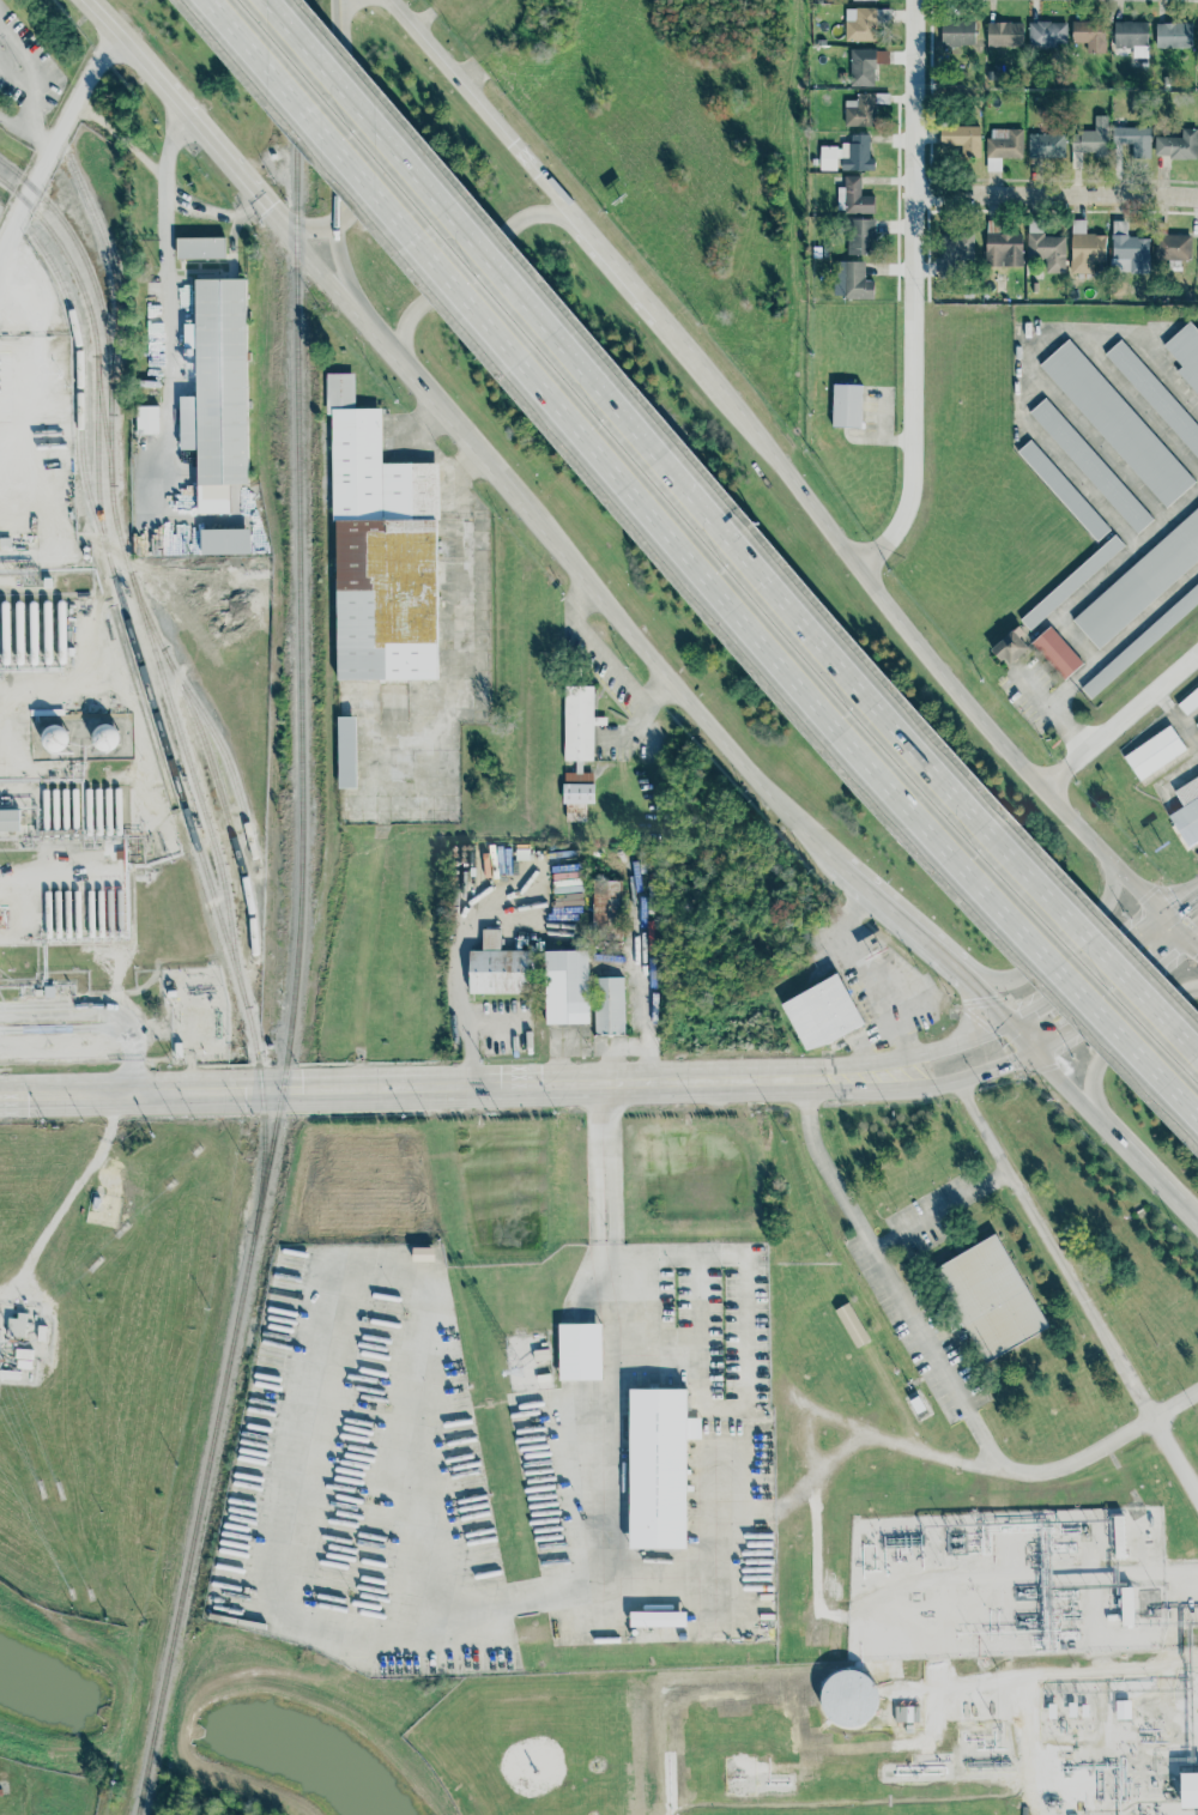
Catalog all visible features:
building: (863, 0)
road: (334, 2)
building: (859, 24)
building: (1088, 31)
building: (957, 32)
building: (1004, 34)
building: (1046, 34)
building: (1173, 35)
building: (1131, 36)
building: (865, 65)
road: (26, 78)
road: (329, 107)
road: (483, 110)
building: (859, 110)
road: (194, 113)
railway: (292, 114)
road: (25, 131)
building: (1090, 137)
building: (961, 139)
building: (1133, 139)
building: (1004, 143)
building: (1046, 145)
building: (1176, 145)
building: (847, 155)
building: (1076, 159)
building: (993, 164)
building: (853, 196)
road: (1061, 198)
road: (314, 224)
building: (859, 236)
building: (956, 244)
building: (200, 247)
building: (1045, 247)
building: (1172, 247)
building: (1084, 248)
building: (1003, 249)
building: (1127, 249)
road: (483, 250)
road: (468, 261)
road: (341, 262)
road: (618, 271)
railway: (115, 280)
building: (851, 280)
road: (4, 290)
road: (924, 298)
road: (176, 313)
railway: (90, 317)
road: (10, 325)
railway: (103, 328)
road: (1027, 352)
building: (1186, 352)
building: (217, 392)
building: (1155, 394)
railway: (79, 399)
road: (1133, 399)
road: (5, 401)
building: (847, 405)
building: (147, 419)
building: (1118, 422)
road: (1095, 441)
building: (1091, 465)
building: (1063, 489)
building: (224, 540)
road: (564, 544)
building: (380, 550)
road: (1126, 551)
road: (692, 567)
road: (468, 581)
building: (1072, 581)
building: (1142, 582)
road: (901, 623)
road: (1076, 640)
building: (1142, 642)
building: (1010, 647)
building: (1057, 652)
road: (1106, 654)
railway: (146, 684)
road: (1039, 692)
building: (1190, 702)
road: (1121, 718)
building: (1197, 724)
building: (107, 738)
building: (55, 739)
railway: (220, 749)
building: (579, 750)
building: (1155, 751)
building: (346, 752)
railway: (208, 757)
road: (944, 781)
building: (1187, 811)
building: (10, 821)
railway: (222, 876)
road: (861, 877)
road: (1181, 896)
building: (606, 907)
traffic signals: (1164, 908)
road: (1176, 920)
road: (1193, 930)
traffic signals: (1188, 933)
road: (920, 938)
road: (1193, 939)
road: (1059, 945)
building: (497, 968)
road: (861, 969)
road: (1088, 970)
road: (460, 978)
building: (567, 987)
road: (1112, 996)
road: (982, 999)
building: (609, 1006)
building: (822, 1014)
traffic signals: (1006, 1026)
railway: (289, 1029)
road: (471, 1034)
road: (1124, 1034)
road: (865, 1035)
road: (1019, 1039)
traffic signals: (1033, 1052)
road: (918, 1054)
road: (1064, 1082)
road: (413, 1085)
road: (933, 1085)
road: (113, 1100)
road: (1146, 1164)
road: (605, 1168)
parking lot: (928, 1198)
road: (938, 1211)
parking lot: (932, 1234)
building: (422, 1254)
road: (714, 1254)
road: (887, 1276)
road: (1075, 1290)
building: (990, 1297)
parking lot: (666, 1299)
parking lot: (683, 1299)
road: (700, 1305)
parking lot: (760, 1325)
building: (852, 1325)
building: (17, 1326)
parking lot: (902, 1330)
parking lot: (713, 1335)
parking lot: (731, 1335)
parking lot: (945, 1342)
building: (580, 1351)
parking lot: (657, 1378)
road: (316, 1393)
building: (916, 1404)
road: (615, 1463)
road: (998, 1465)
building: (659, 1466)
road: (707, 1476)
road: (726, 1513)
building: (1119, 1537)
road: (912, 1586)
building: (1126, 1607)
building: (658, 1619)
road: (1105, 1635)
road: (1170, 1652)
road: (1039, 1677)
building: (848, 1699)
storage tank: (848, 1699)
building: (1123, 1710)
building: (907, 1713)
building: (908, 1728)
road: (5, 1783)
building: (1188, 1790)

